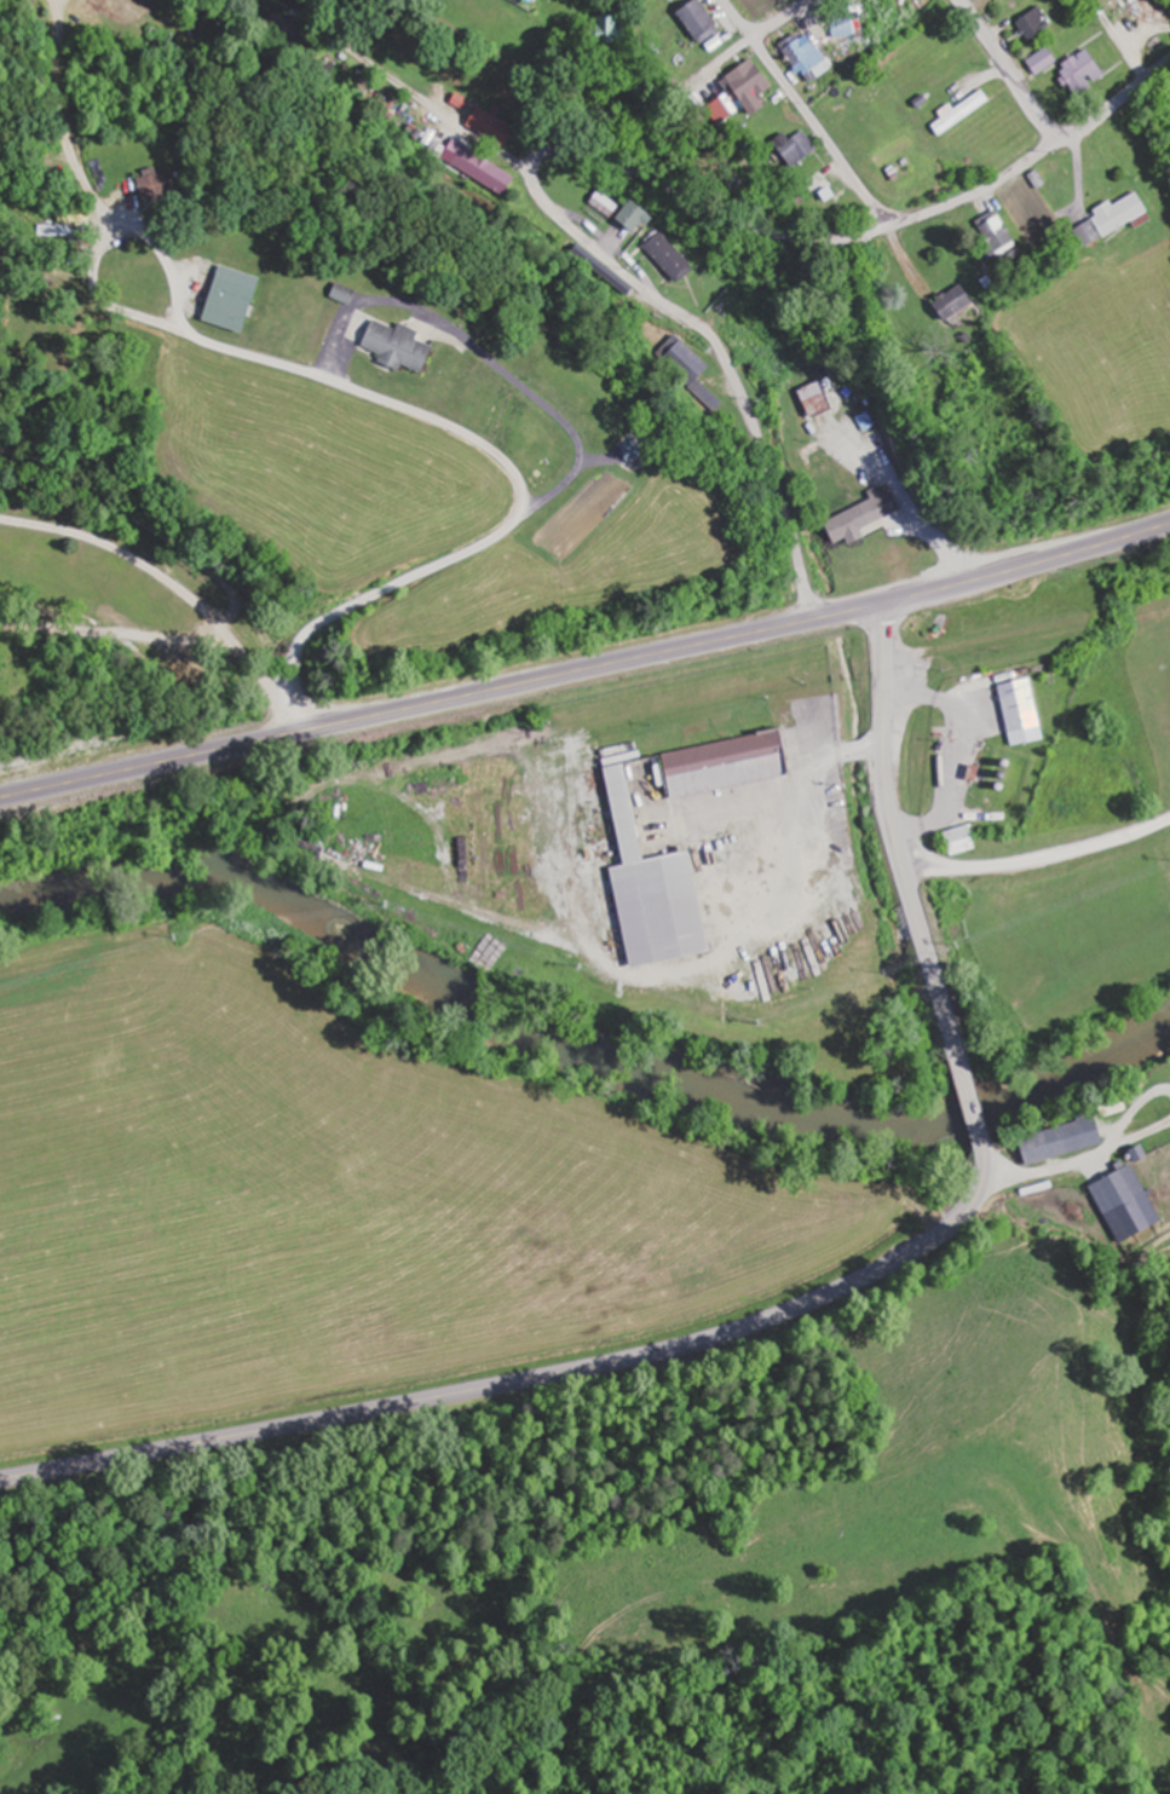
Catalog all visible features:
building: (754, 1)
road: (783, 19)
building: (692, 21)
building: (1031, 23)
building: (601, 31)
building: (800, 57)
building: (1038, 60)
road: (1010, 69)
building: (1076, 71)
building: (731, 94)
road: (806, 113)
building: (486, 125)
building: (786, 149)
road: (601, 161)
building: (480, 169)
building: (165, 185)
building: (600, 204)
building: (627, 219)
building: (1107, 219)
building: (991, 235)
building: (664, 256)
building: (242, 301)
building: (946, 302)
building: (747, 325)
building: (397, 348)
building: (686, 370)
building: (809, 399)
road: (532, 491)
building: (849, 546)
road: (175, 567)
road: (587, 669)
building: (1016, 711)
building: (734, 763)
building: (953, 841)
road: (897, 843)
road: (1038, 858)
building: (661, 888)
river: (581, 1048)
building: (1105, 1107)
road: (973, 1109)
building: (1053, 1141)
building: (1113, 1189)
road: (531, 1379)

